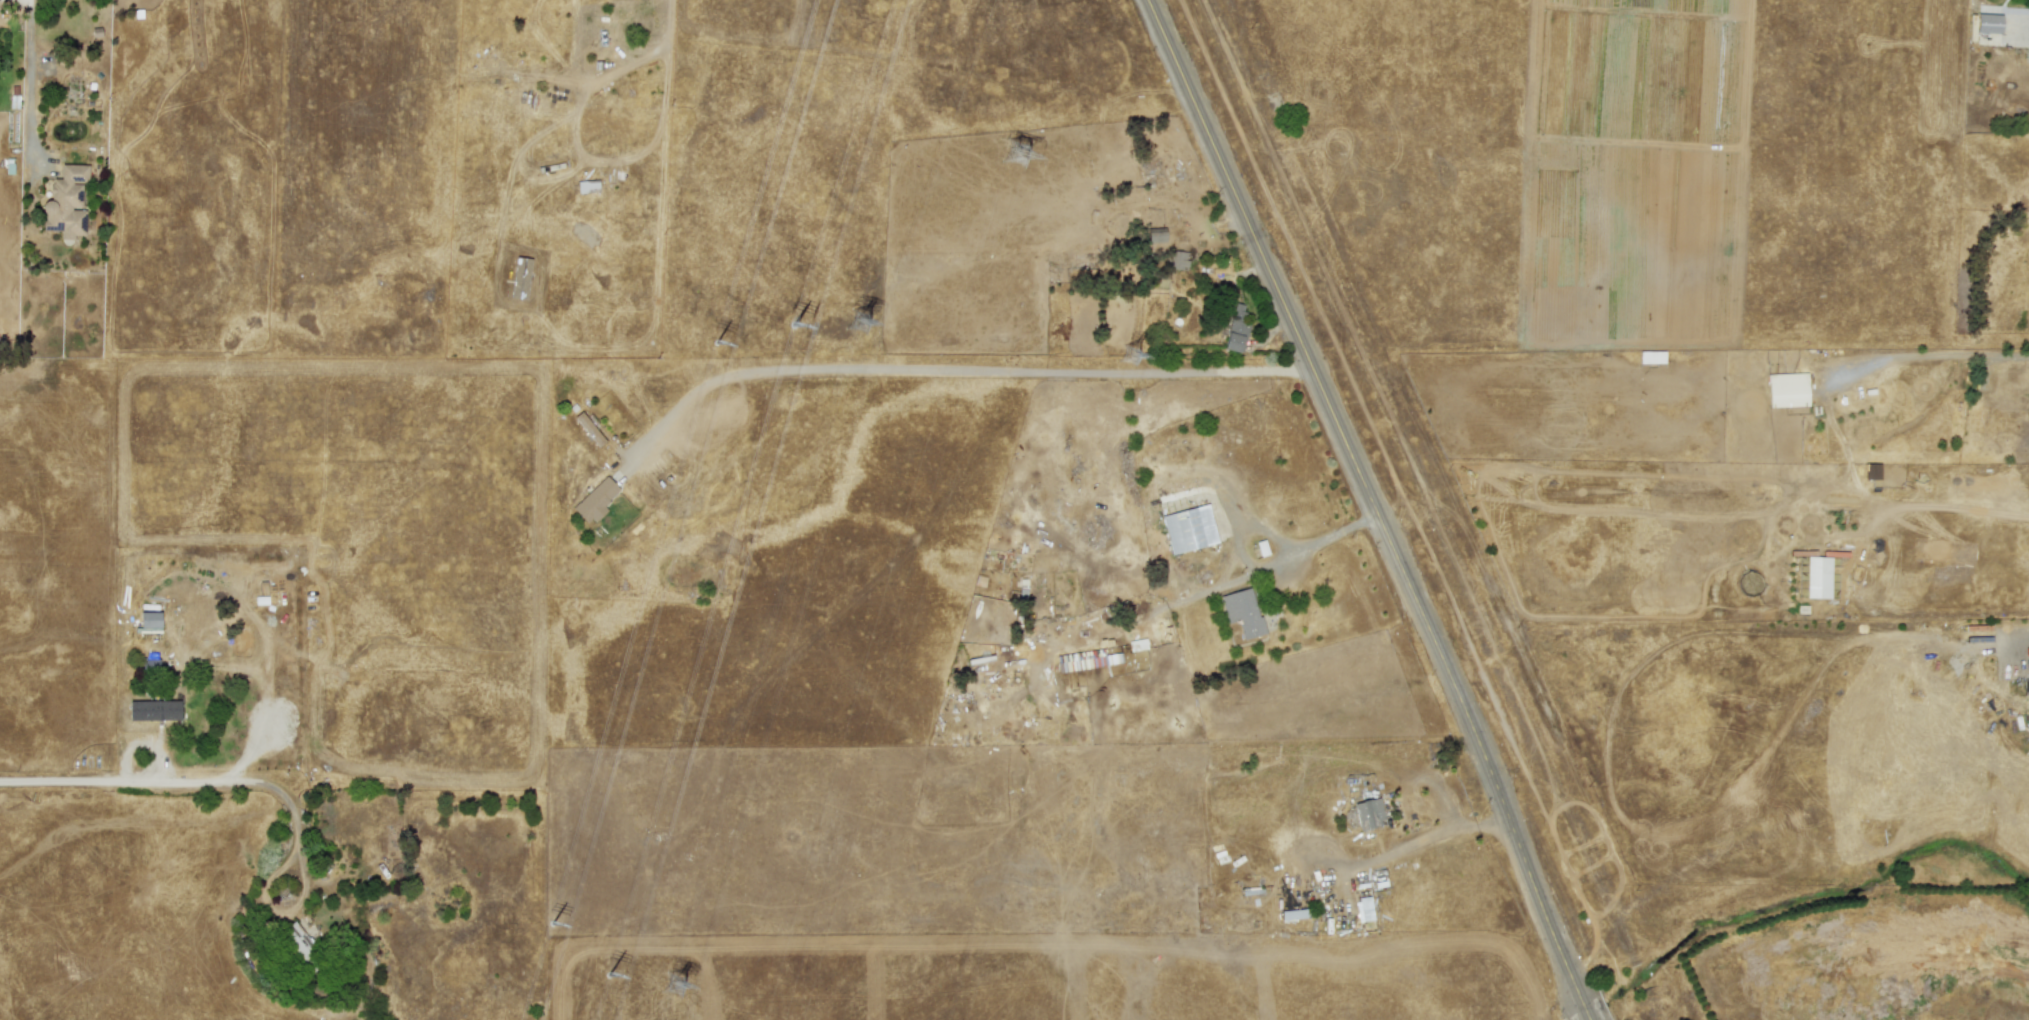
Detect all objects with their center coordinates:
building: (1988, 23)
road: (642, 59)
road: (29, 76)
power tower: (1017, 156)
building: (587, 186)
building: (66, 202)
building: (1155, 235)
building: (1177, 260)
building: (520, 277)
power tower: (859, 324)
building: (1237, 328)
road: (1935, 355)
power tower: (1131, 357)
building: (1651, 357)
road: (961, 372)
building: (1787, 390)
building: (589, 428)
building: (1871, 471)
building: (595, 500)
road: (1371, 509)
building: (1189, 529)
road: (107, 531)
building: (1817, 577)
road: (1189, 594)
building: (1242, 612)
road: (2023, 640)
building: (1137, 645)
building: (1085, 660)
building: (150, 664)
building: (153, 710)
building: (2028, 729)
road: (179, 783)
building: (1368, 814)
crop: (1862, 899)
building: (1363, 906)
building: (297, 940)
power tower: (674, 987)

